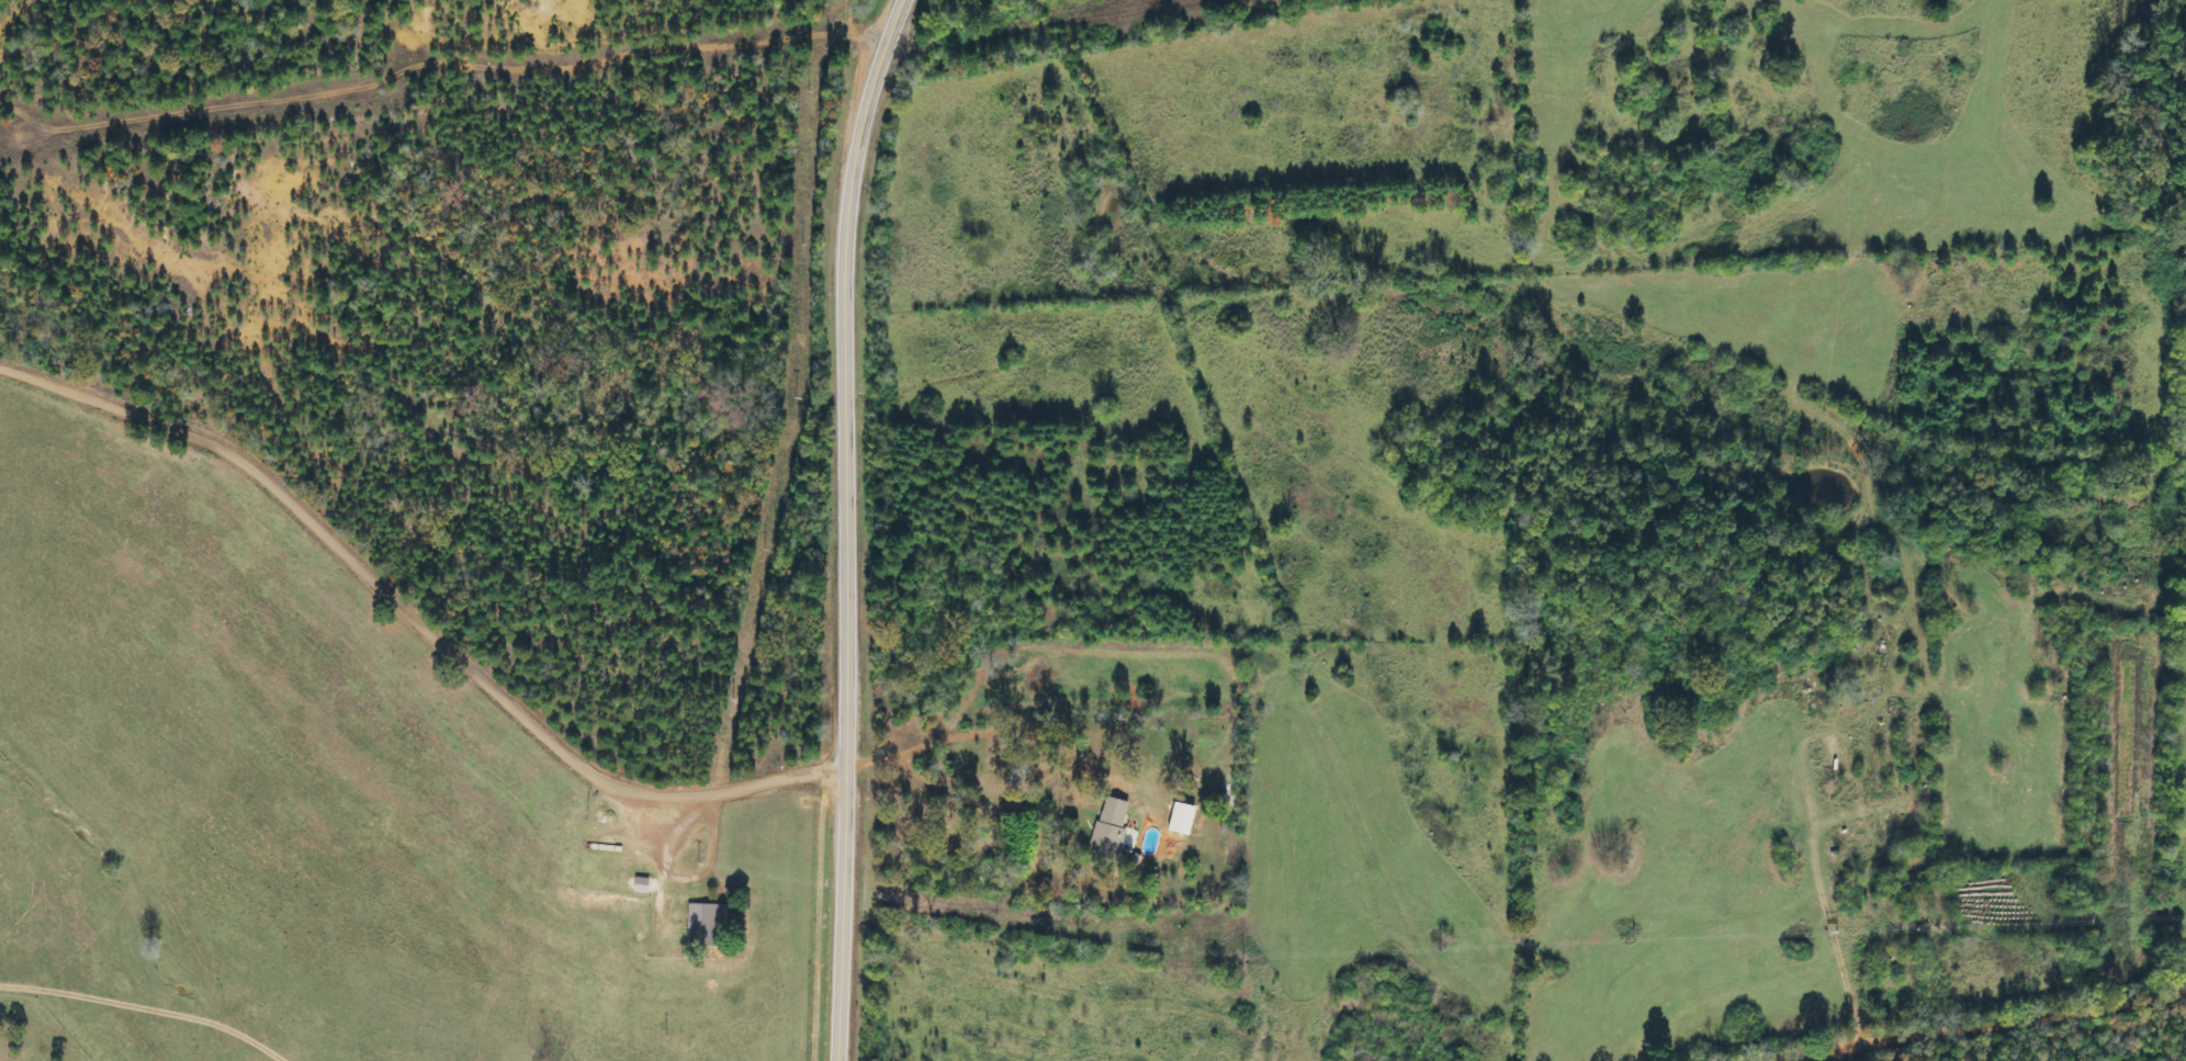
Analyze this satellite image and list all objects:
road: (840, 527)
road: (418, 616)
building: (1185, 817)
building: (1113, 828)
building: (711, 924)
road: (1991, 1025)

